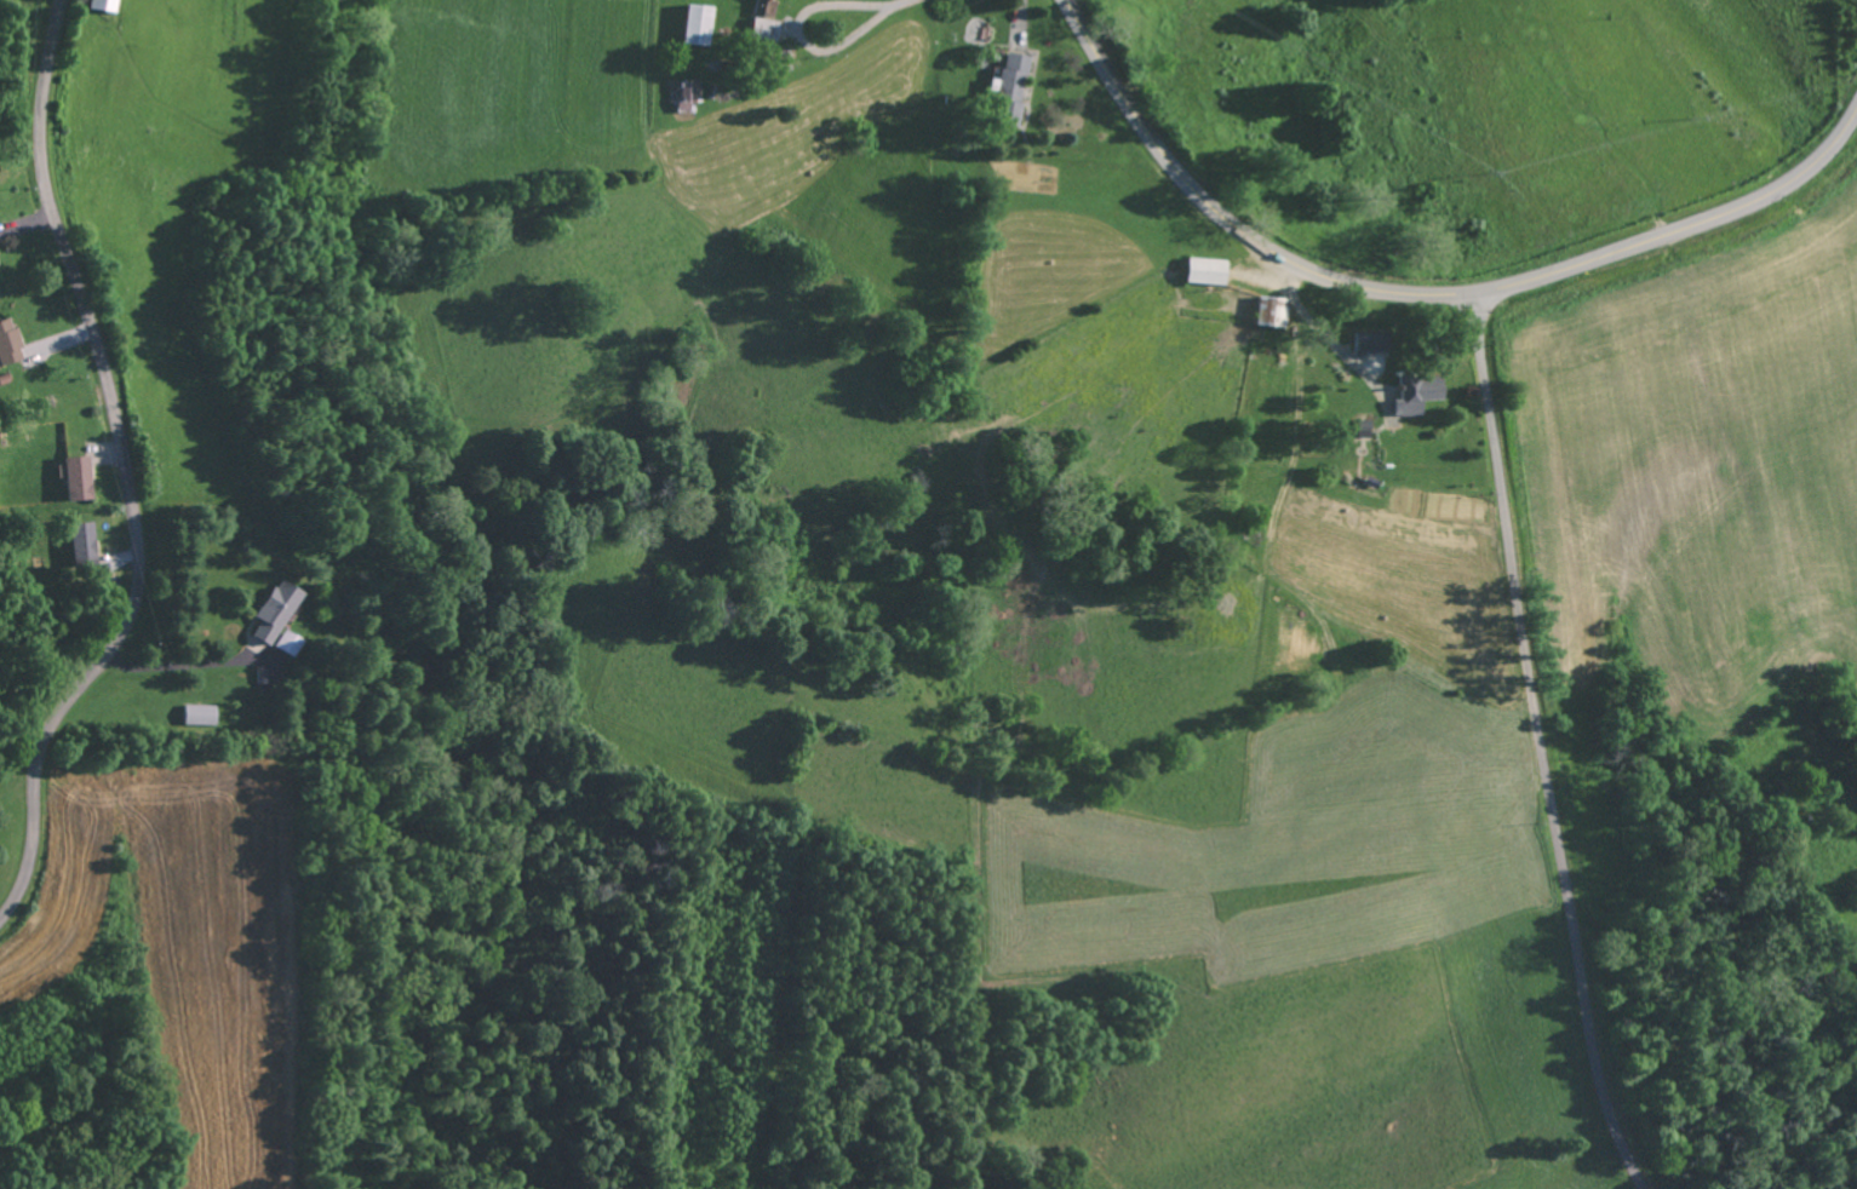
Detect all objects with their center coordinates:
building: (103, 5)
building: (695, 24)
building: (763, 29)
building: (1010, 86)
building: (683, 91)
building: (1204, 271)
road: (1421, 295)
building: (1271, 312)
building: (8, 343)
building: (1362, 343)
building: (1414, 392)
building: (1360, 430)
road: (122, 470)
building: (78, 478)
building: (82, 544)
building: (274, 611)
building: (286, 643)
building: (199, 713)
road: (1537, 745)
road: (199, 823)

